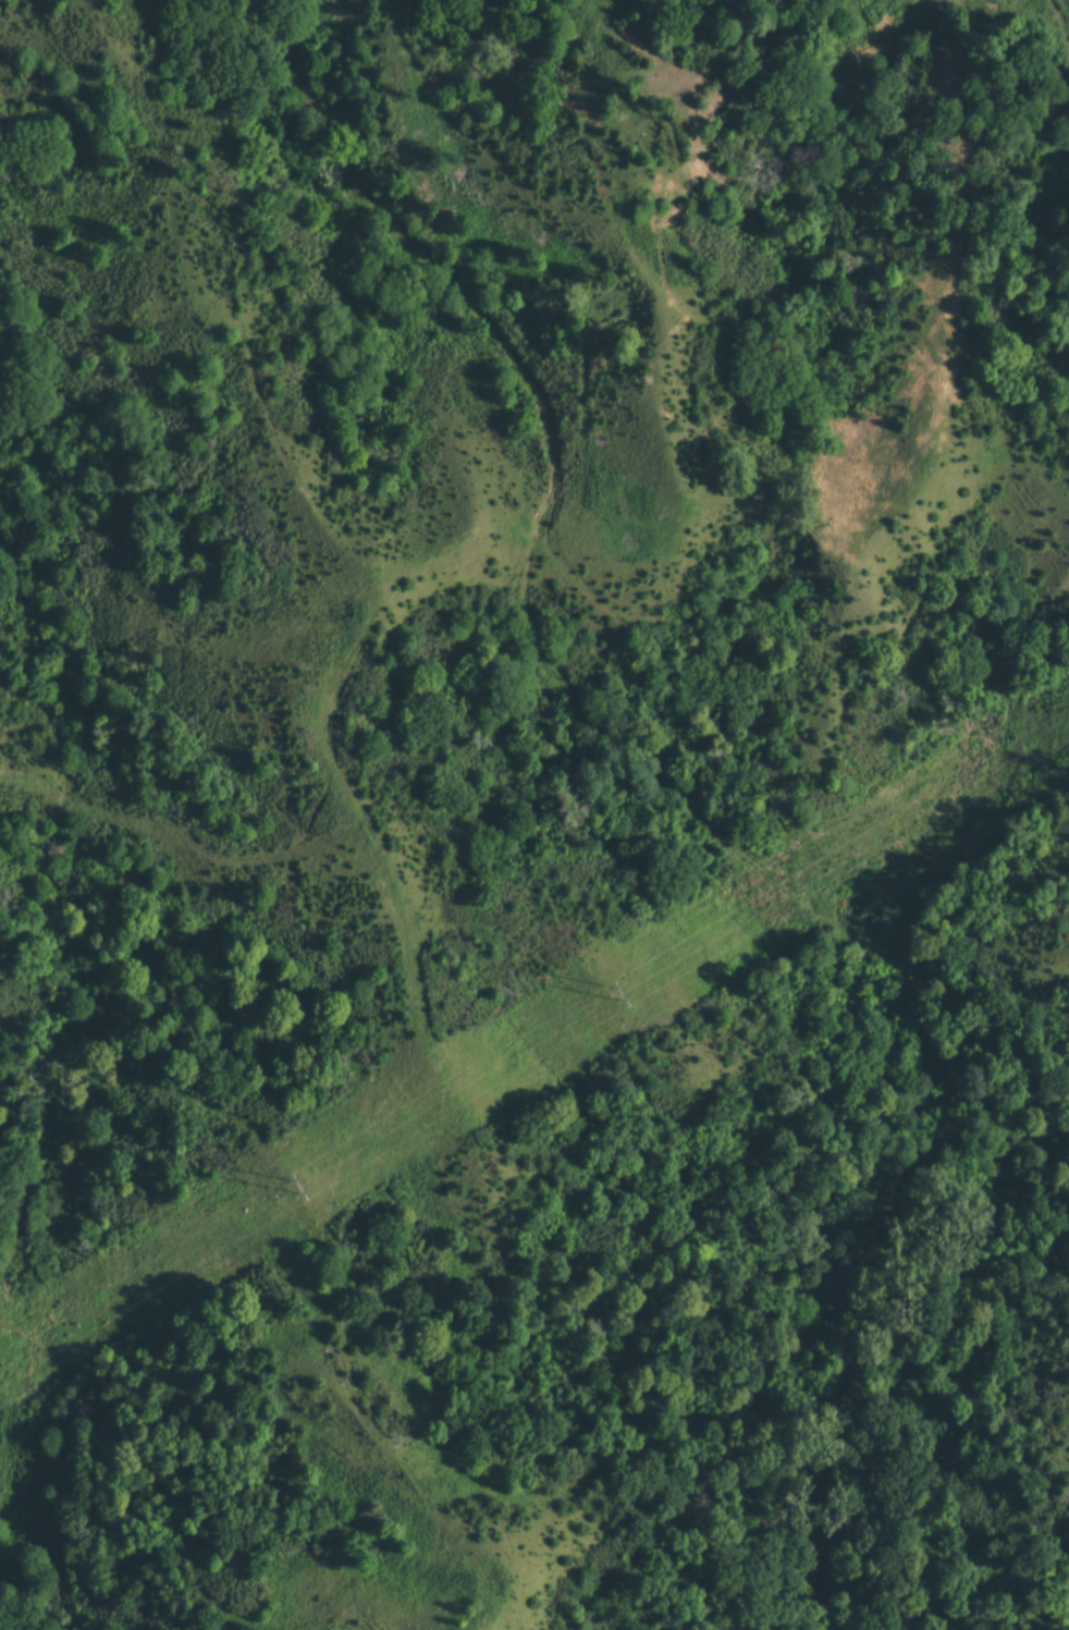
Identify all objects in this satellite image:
power tower: (619, 994)
power tower: (294, 1187)

